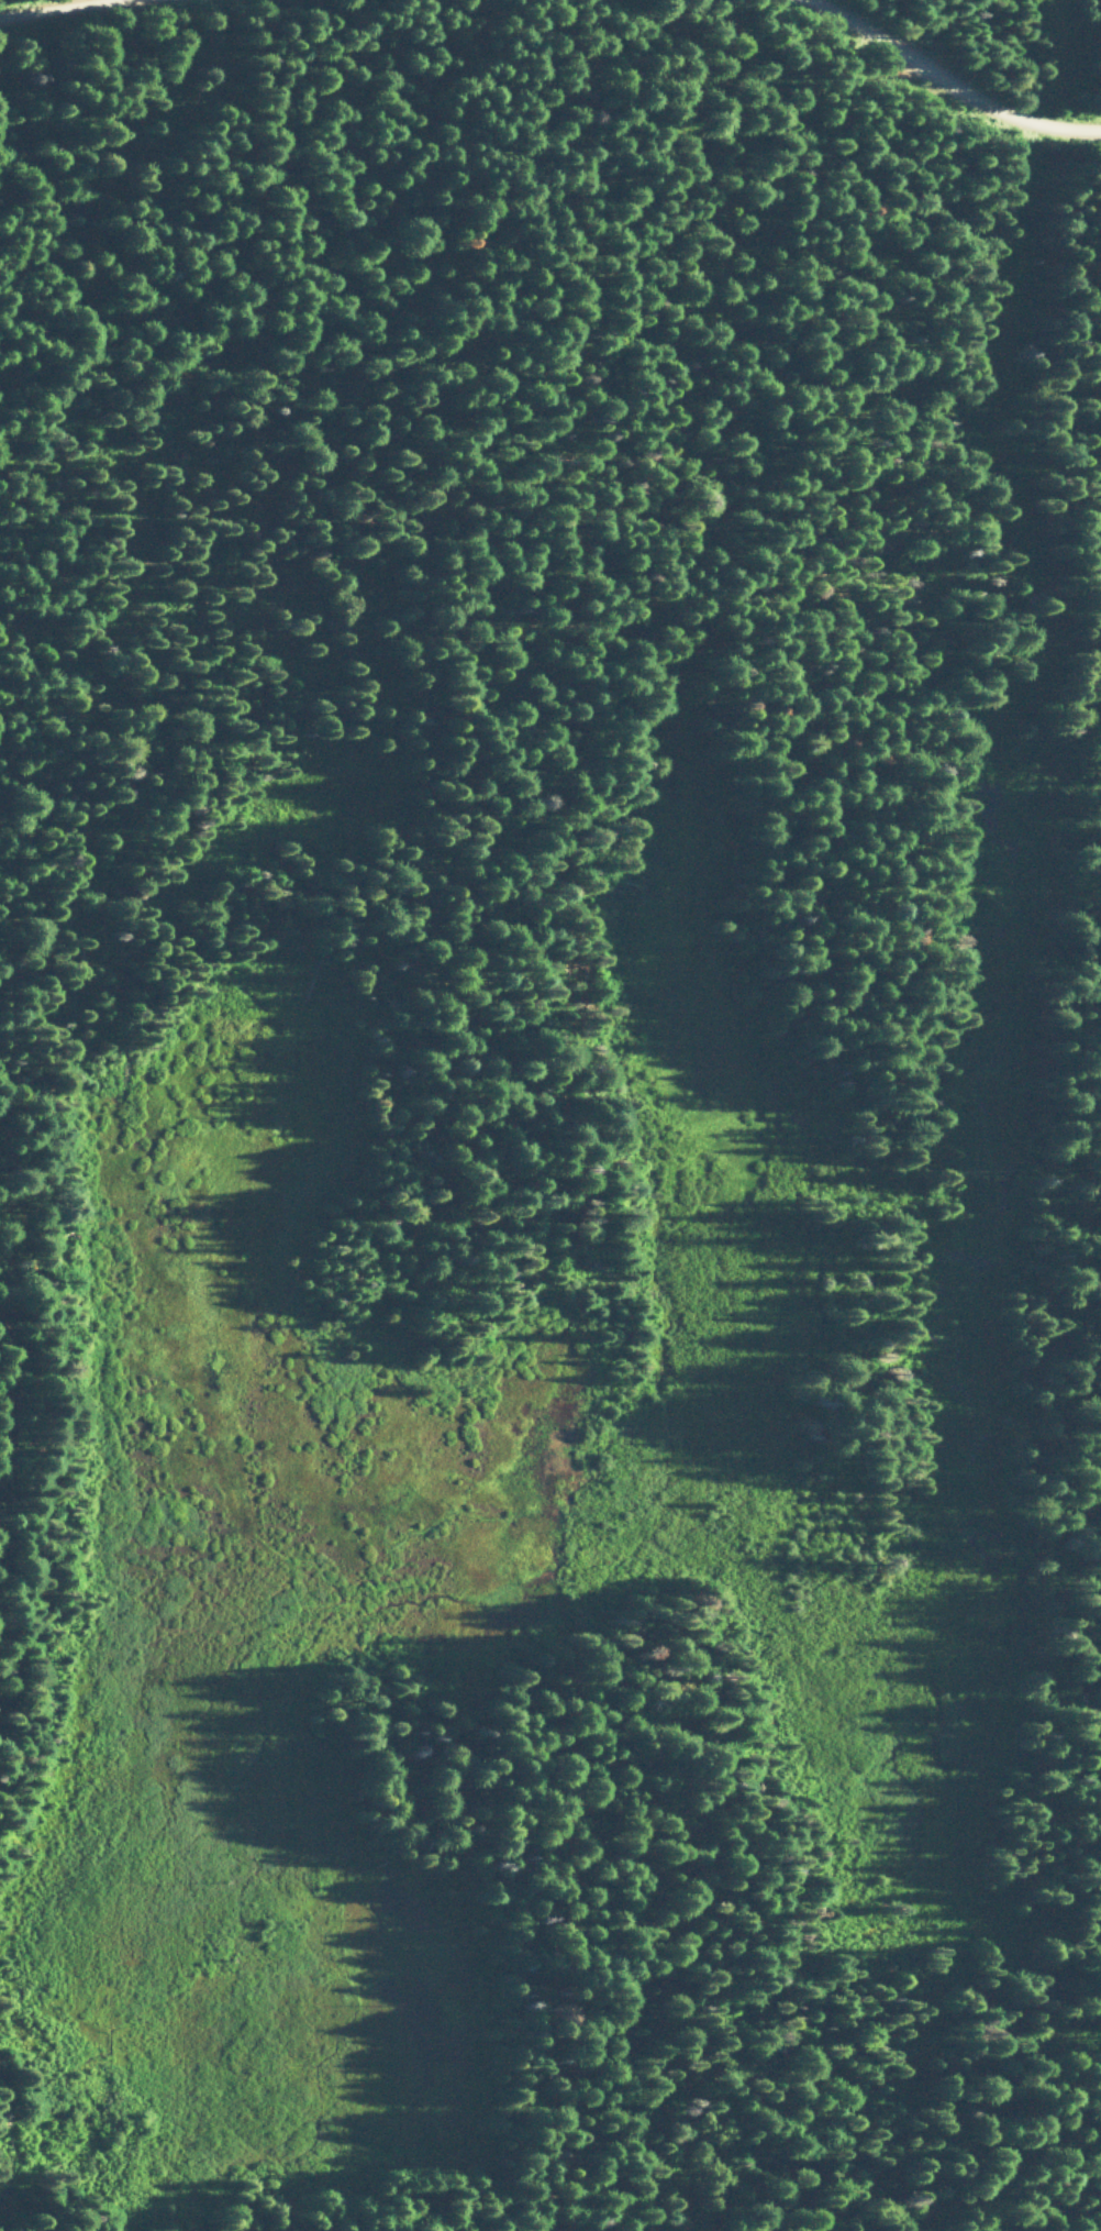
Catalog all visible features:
road: (57, 7)
road: (942, 80)

